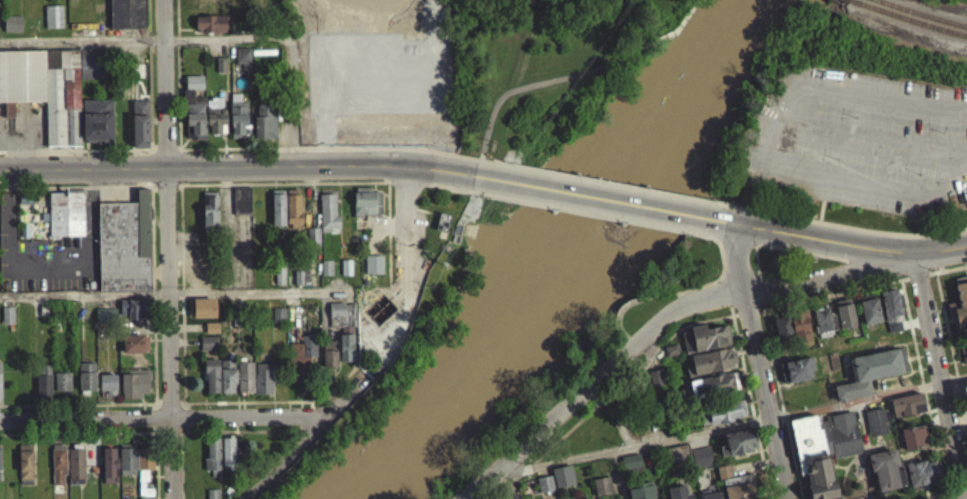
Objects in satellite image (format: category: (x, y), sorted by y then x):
building: (966, 0)
railway: (838, 3)
building: (126, 16)
railway: (911, 18)
road: (146, 21)
building: (53, 23)
railway: (906, 26)
building: (12, 30)
building: (211, 30)
road: (145, 46)
road: (80, 47)
road: (284, 47)
building: (241, 62)
building: (219, 71)
road: (565, 76)
building: (387, 78)
building: (57, 99)
road: (147, 105)
road: (803, 111)
building: (194, 114)
building: (214, 121)
building: (237, 123)
building: (264, 128)
building: (139, 130)
parking lot: (857, 140)
road: (164, 155)
road: (177, 155)
road: (276, 155)
road: (76, 156)
road: (484, 166)
road: (236, 171)
road: (865, 183)
road: (276, 189)
road: (406, 189)
road: (608, 189)
road: (446, 192)
road: (164, 193)
road: (177, 193)
road: (77, 194)
road: (597, 204)
building: (241, 207)
building: (365, 208)
building: (277, 214)
building: (292, 215)
building: (209, 217)
road: (773, 217)
road: (587, 218)
building: (327, 219)
building: (65, 220)
building: (443, 220)
road: (406, 227)
road: (881, 232)
building: (312, 243)
road: (844, 244)
park: (444, 245)
road: (167, 249)
road: (771, 251)
building: (124, 252)
road: (738, 261)
river: (559, 263)
park: (784, 267)
building: (373, 271)
building: (326, 274)
road: (831, 276)
building: (279, 281)
building: (298, 284)
road: (673, 290)
road: (245, 292)
road: (84, 294)
building: (960, 299)
building: (891, 302)
building: (872, 308)
building: (847, 311)
building: (203, 314)
building: (133, 316)
building: (826, 316)
building: (869, 317)
building: (278, 321)
road: (699, 321)
building: (7, 322)
building: (104, 323)
building: (785, 323)
building: (803, 323)
building: (823, 326)
building: (343, 335)
building: (782, 337)
building: (704, 343)
road: (951, 346)
building: (208, 349)
building: (964, 349)
building: (134, 350)
building: (670, 355)
building: (963, 359)
building: (328, 360)
building: (301, 365)
building: (799, 366)
building: (712, 367)
building: (872, 368)
building: (657, 375)
road: (939, 375)
road: (596, 377)
building: (211, 382)
building: (86, 383)
building: (226, 383)
building: (244, 384)
building: (654, 384)
building: (262, 385)
road: (924, 385)
building: (965, 387)
building: (42, 389)
building: (714, 389)
building: (61, 390)
building: (106, 390)
building: (133, 390)
road: (750, 394)
road: (768, 395)
road: (344, 397)
building: (0, 400)
building: (647, 401)
building: (964, 401)
road: (782, 403)
building: (907, 403)
road: (161, 417)
building: (721, 417)
building: (876, 420)
road: (731, 426)
building: (916, 434)
building: (742, 439)
building: (913, 444)
building: (823, 448)
building: (678, 451)
building: (704, 455)
building: (227, 460)
road: (285, 460)
building: (634, 461)
building: (212, 463)
building: (144, 465)
road: (181, 465)
building: (922, 466)
building: (126, 467)
building: (631, 469)
building: (24, 471)
building: (57, 471)
building: (75, 471)
building: (108, 472)
building: (565, 473)
building: (546, 481)
building: (738, 481)
building: (604, 482)
building: (562, 483)
road: (158, 486)
building: (644, 489)
road: (959, 489)
building: (544, 490)
building: (680, 490)
building: (601, 491)
building: (714, 493)
road: (932, 494)
building: (512, 496)
building: (212, 497)

